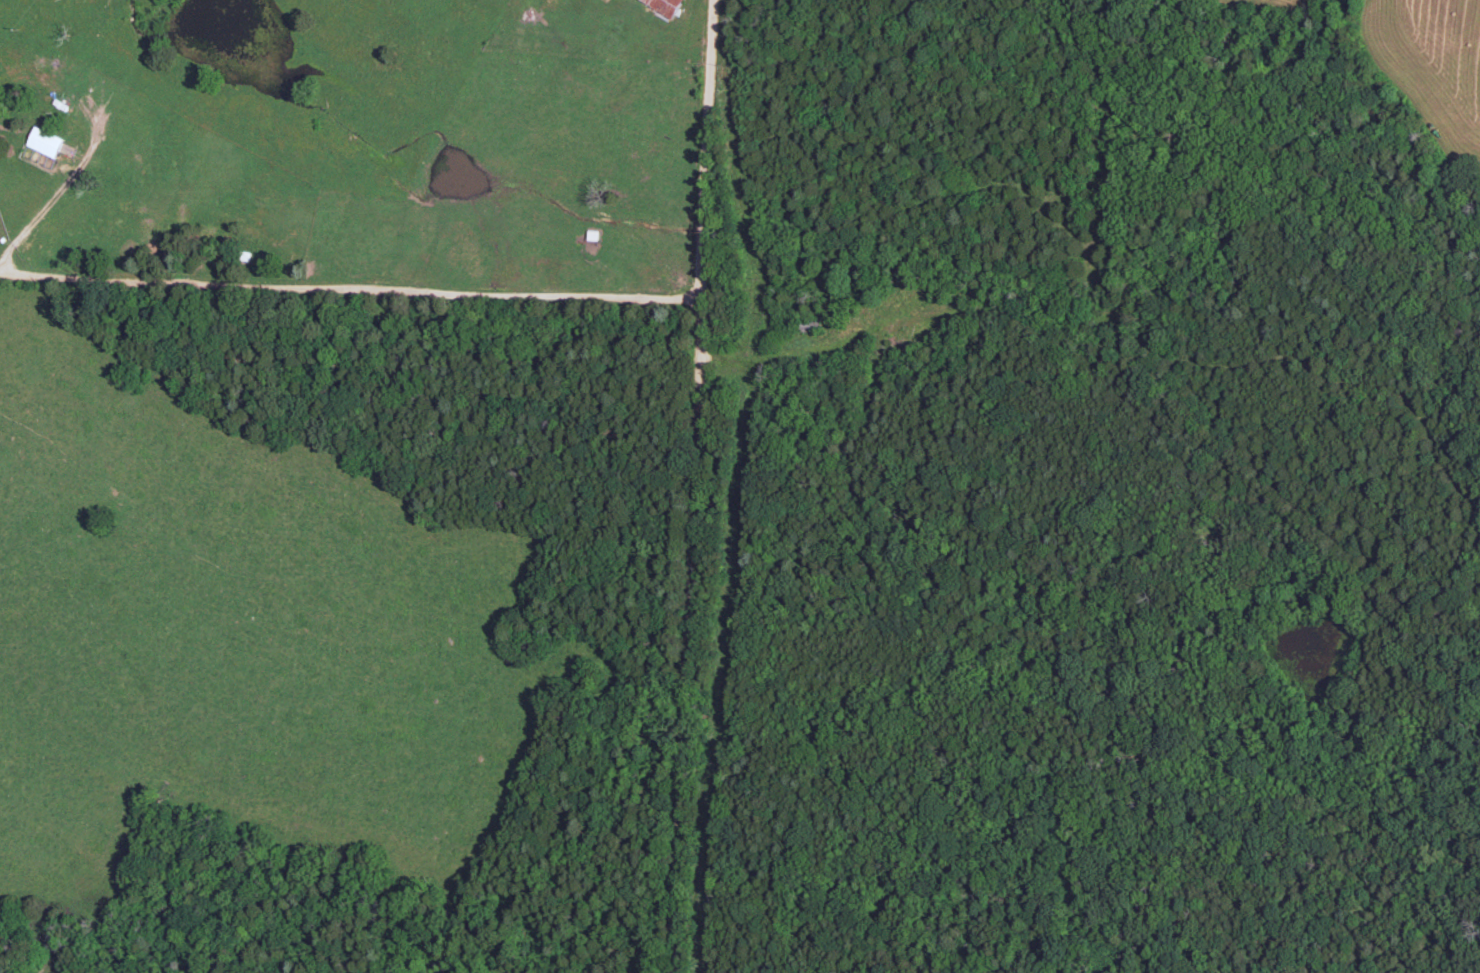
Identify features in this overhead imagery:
building: (663, 5)
road: (228, 28)
building: (44, 142)
road: (701, 486)
road: (330, 890)

